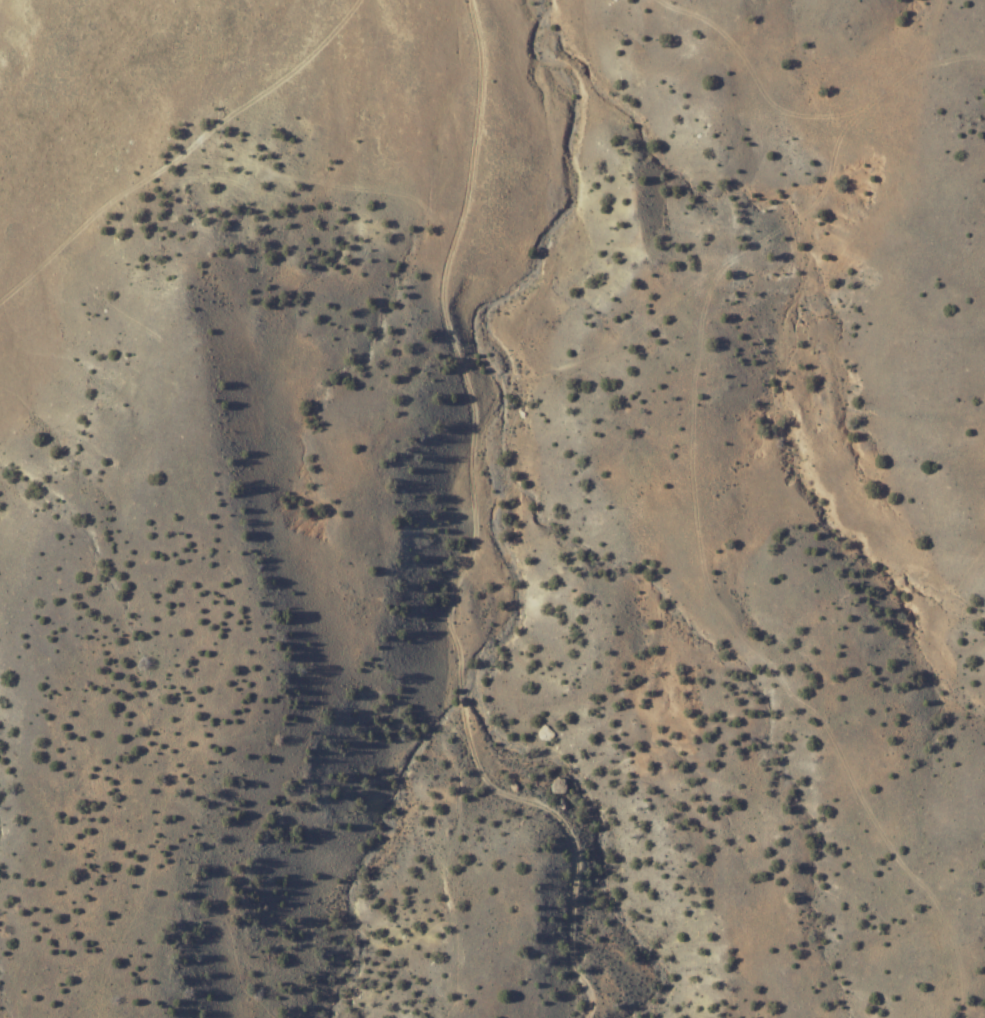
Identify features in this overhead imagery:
road: (430, 530)

